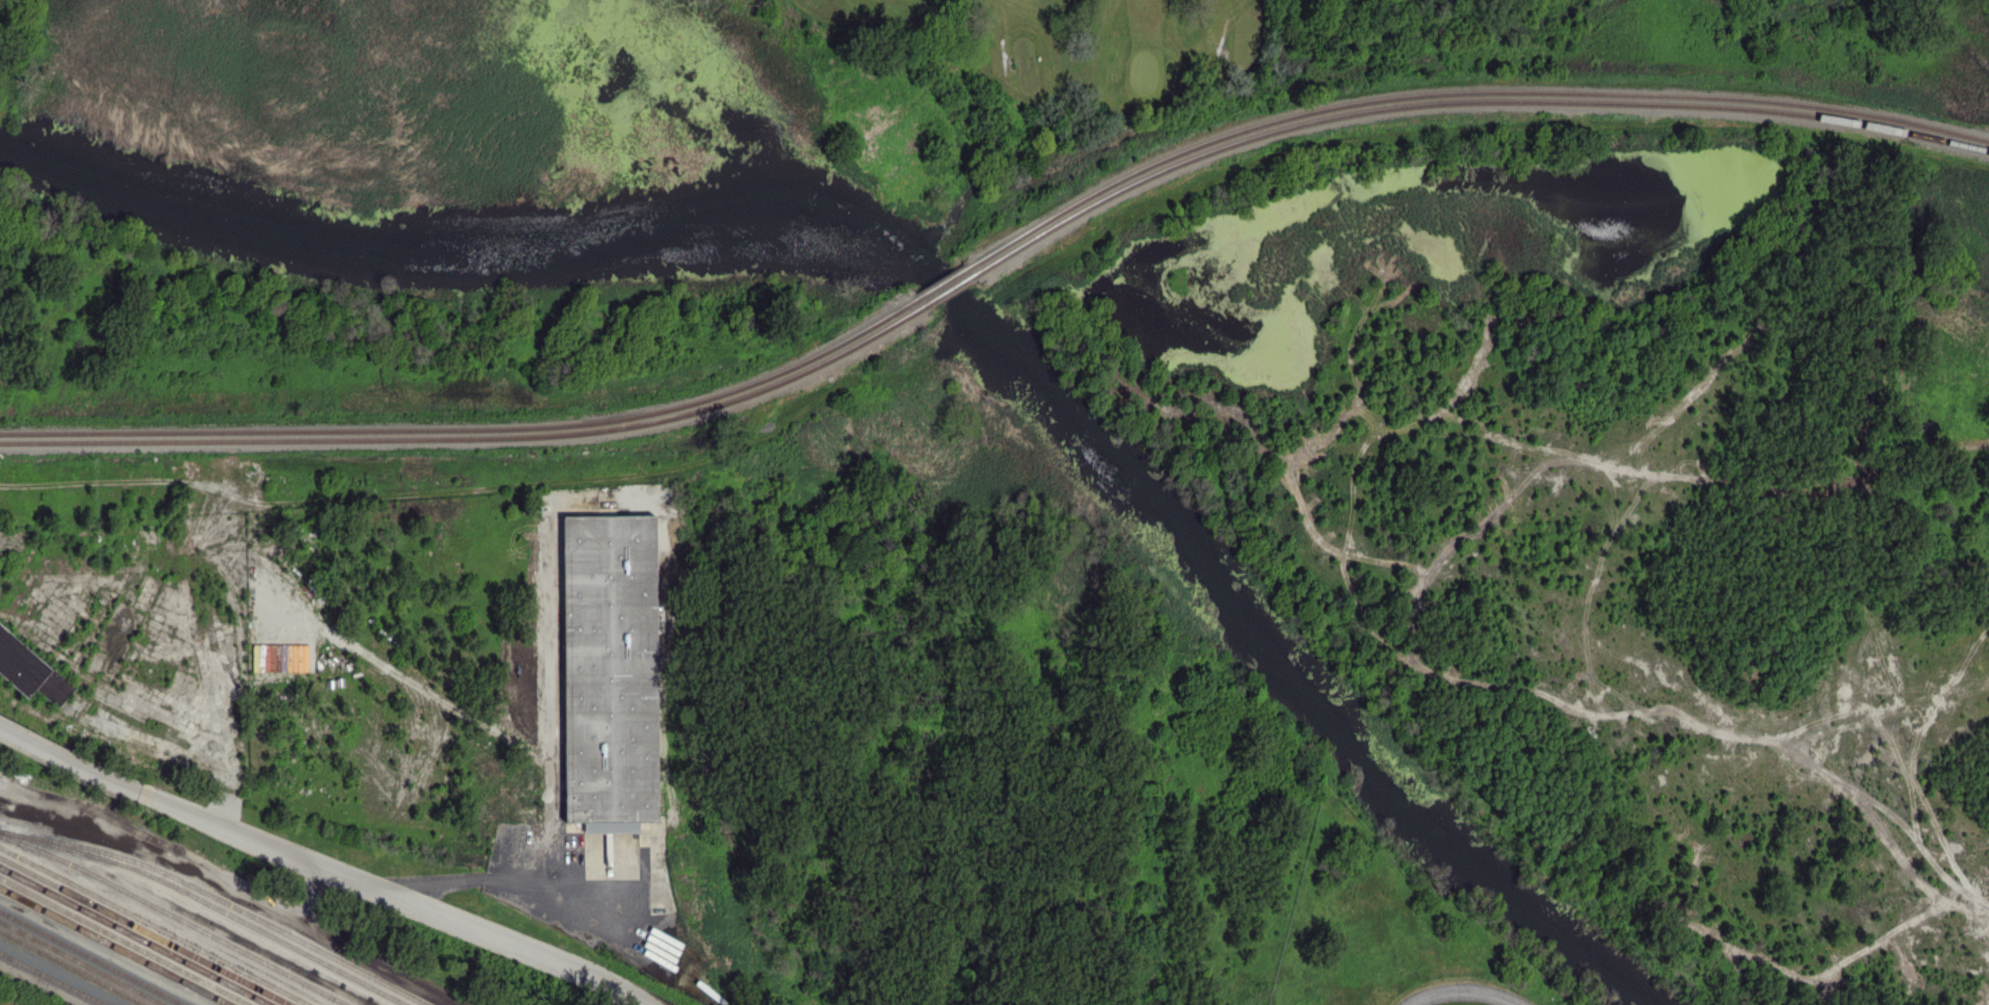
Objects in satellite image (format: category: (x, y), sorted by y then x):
road: (1224, 31)
road: (1006, 56)
park: (1293, 69)
park: (1144, 71)
railway: (1461, 92)
railway: (1464, 101)
railway: (942, 284)
river: (952, 284)
railway: (950, 291)
railway: (471, 431)
railway: (476, 439)
road: (50, 753)
road: (526, 882)
road: (376, 890)
railway: (219, 899)
railway: (207, 904)
road: (604, 911)
railway: (175, 916)
railway: (153, 926)
railway: (144, 931)
railway: (134, 936)
railway: (124, 941)
railway: (114, 946)
railway: (91, 958)
railway: (82, 962)
railway: (71, 968)
railway: (52, 979)
road: (1463, 990)

